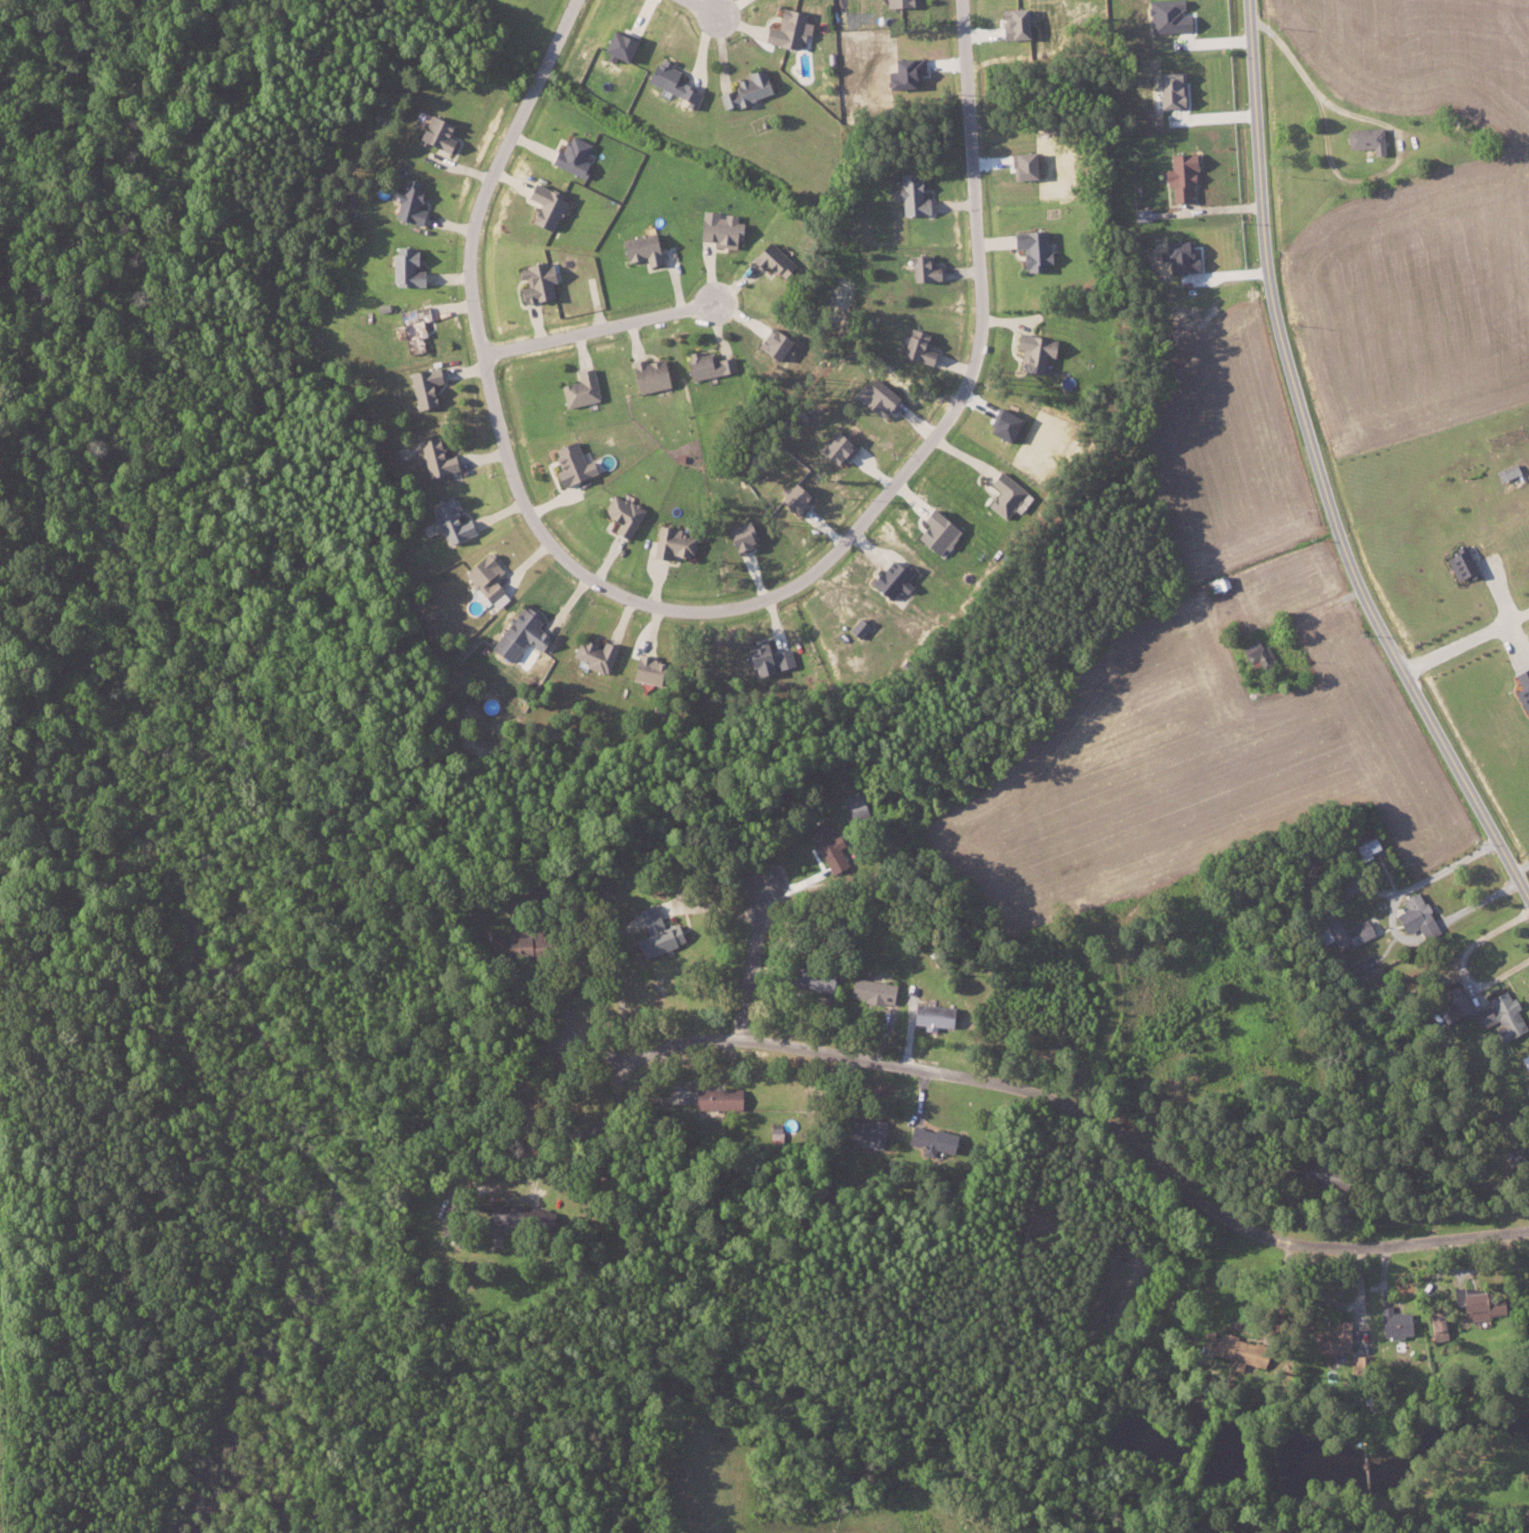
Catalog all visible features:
building: (898, 3)
road: (701, 10)
building: (786, 29)
building: (614, 46)
building: (669, 82)
building: (746, 89)
building: (436, 133)
building: (1365, 138)
building: (571, 155)
building: (1178, 173)
building: (911, 193)
building: (408, 201)
building: (542, 204)
road: (1209, 209)
building: (1141, 214)
building: (717, 227)
building: (639, 247)
building: (1032, 249)
building: (770, 257)
building: (404, 266)
building: (921, 267)
building: (535, 280)
building: (411, 326)
road: (601, 327)
building: (770, 342)
building: (915, 345)
building: (1031, 350)
building: (706, 363)
building: (647, 373)
building: (423, 384)
building: (578, 387)
building: (835, 448)
building: (434, 456)
building: (569, 462)
road: (1311, 470)
building: (1507, 471)
building: (1003, 492)
building: (793, 498)
building: (620, 514)
building: (449, 520)
building: (934, 532)
building: (739, 536)
building: (671, 542)
building: (1459, 563)
building: (483, 576)
building: (888, 578)
road: (703, 611)
building: (857, 627)
building: (518, 634)
building: (1257, 653)
building: (592, 654)
building: (766, 657)
building: (641, 667)
building: (1522, 686)
building: (824, 846)
building: (1366, 847)
road: (1523, 866)
road: (1417, 882)
road: (1480, 902)
building: (1412, 913)
road: (1431, 929)
building: (1344, 932)
building: (655, 933)
building: (516, 945)
road: (750, 962)
road: (1462, 962)
building: (870, 990)
building: (1454, 1001)
building: (1505, 1014)
building: (926, 1016)
road: (516, 1076)
building: (715, 1098)
road: (1093, 1110)
building: (864, 1130)
building: (930, 1139)
building: (497, 1212)
building: (1477, 1305)
building: (1437, 1322)
building: (1394, 1323)
building: (1330, 1339)

